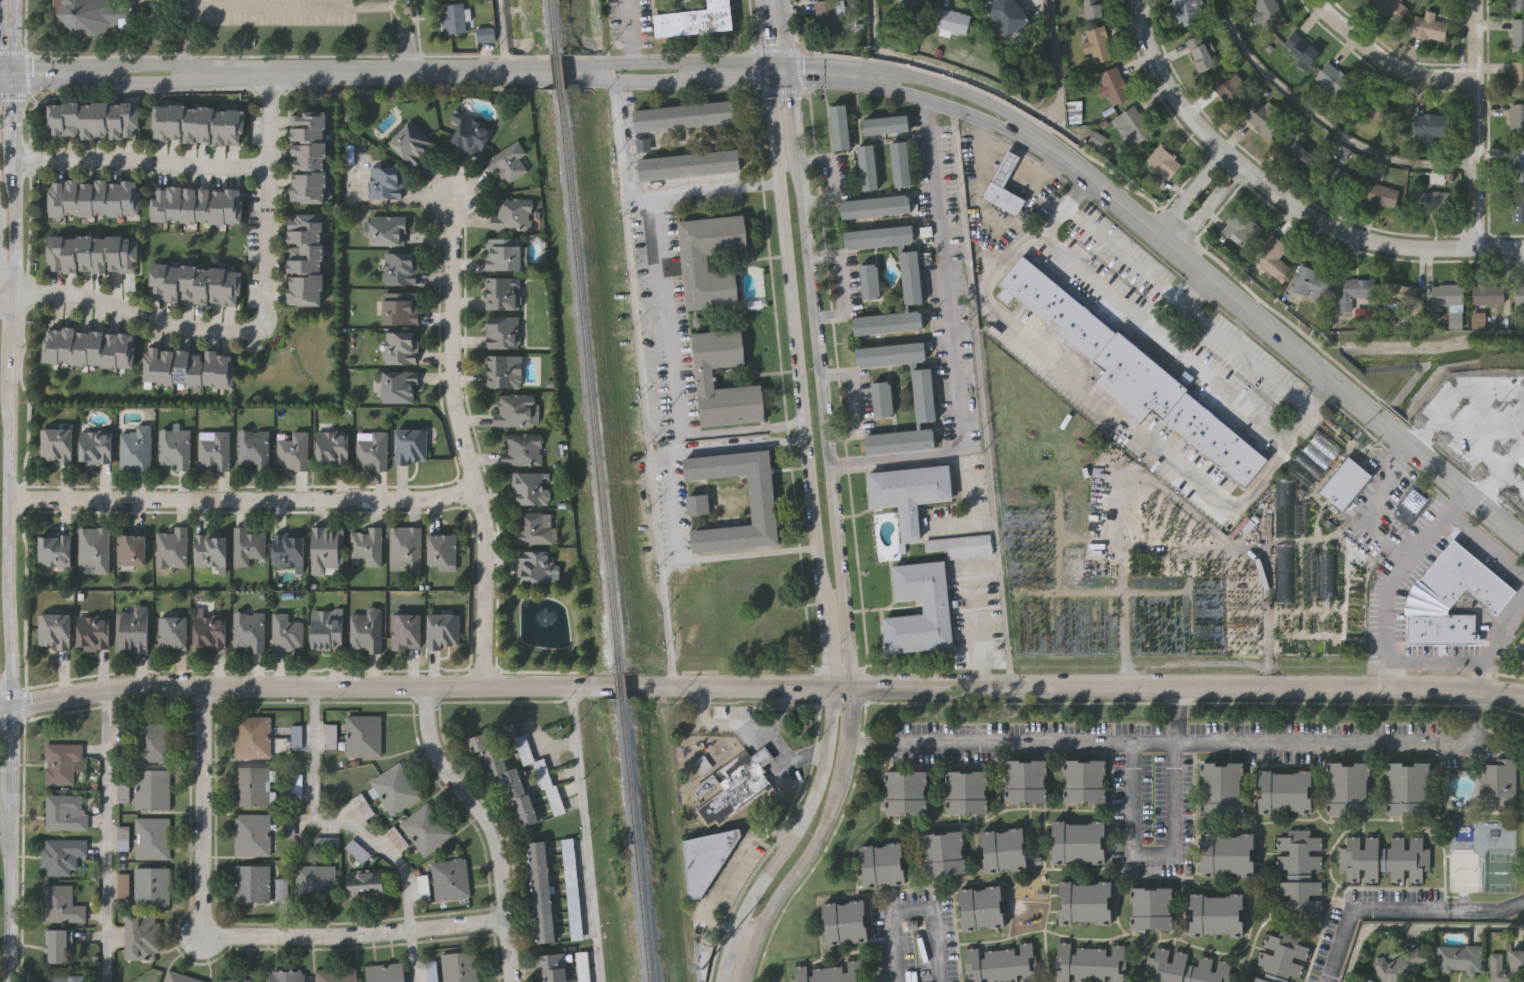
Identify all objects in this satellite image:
building: (905, 2)
building: (1517, 5)
road: (293, 7)
building: (1389, 8)
building: (1091, 9)
building: (1185, 12)
building: (1267, 13)
building: (91, 14)
building: (1007, 14)
building: (826, 16)
building: (453, 17)
building: (694, 19)
building: (952, 21)
railway: (553, 23)
building: (1428, 26)
road: (629, 30)
building: (484, 33)
road: (502, 34)
road: (406, 35)
road: (766, 35)
road: (785, 35)
building: (1517, 35)
road: (11, 36)
road: (182, 36)
building: (1098, 44)
building: (153, 48)
building: (1301, 49)
building: (1200, 53)
road: (686, 60)
traffic signals: (769, 60)
traffic signals: (788, 60)
road: (824, 61)
road: (1386, 61)
railway: (558, 69)
road: (546, 70)
road: (253, 72)
traffic signals: (11, 73)
road: (771, 74)
road: (790, 75)
building: (1517, 78)
road: (649, 79)
road: (742, 79)
traffic signals: (771, 79)
road: (780, 79)
traffic signals: (790, 79)
building: (1334, 82)
road: (945, 85)
building: (1113, 85)
building: (1231, 89)
road: (995, 90)
road: (906, 92)
building: (1372, 107)
building: (1073, 111)
road: (793, 112)
building: (685, 114)
road: (11, 115)
building: (1258, 116)
building: (93, 119)
building: (1517, 121)
road: (1324, 122)
building: (198, 123)
building: (884, 123)
road: (1475, 123)
building: (838, 125)
building: (1131, 126)
building: (1431, 128)
building: (469, 135)
building: (410, 143)
building: (1342, 154)
building: (309, 156)
road: (139, 159)
building: (1163, 161)
building: (900, 162)
building: (1517, 162)
building: (506, 163)
building: (690, 164)
building: (867, 166)
building: (1436, 177)
building: (384, 182)
building: (1002, 184)
road: (703, 189)
road: (10, 190)
road: (1191, 191)
building: (1379, 194)
road: (1283, 195)
road: (266, 197)
building: (92, 198)
building: (1434, 201)
road: (1208, 205)
building: (1518, 205)
building: (197, 206)
building: (875, 207)
road: (1065, 207)
building: (511, 214)
building: (1242, 229)
building: (385, 230)
building: (93, 252)
building: (505, 254)
road: (10, 257)
building: (1272, 259)
building: (305, 260)
building: (696, 260)
building: (399, 268)
building: (910, 277)
building: (1311, 281)
building: (869, 282)
building: (194, 284)
road: (844, 285)
road: (5, 291)
building: (501, 293)
building: (1395, 293)
building: (1357, 294)
building: (1488, 294)
building: (1519, 295)
building: (1446, 296)
building: (399, 308)
road: (1186, 308)
road: (136, 312)
road: (670, 312)
road: (1273, 331)
building: (500, 332)
road: (1163, 335)
road: (952, 340)
building: (88, 347)
building: (399, 349)
building: (189, 369)
building: (502, 370)
building: (1132, 373)
building: (706, 374)
railway: (588, 382)
road: (642, 382)
building: (397, 387)
building: (921, 396)
building: (880, 397)
road: (853, 403)
road: (1110, 407)
road: (1308, 407)
building: (514, 410)
road: (823, 416)
road: (744, 427)
road: (460, 444)
road: (727, 444)
building: (55, 445)
road: (1465, 445)
building: (409, 446)
building: (94, 447)
building: (330, 447)
building: (134, 448)
building: (173, 448)
building: (213, 449)
building: (253, 449)
building: (521, 449)
building: (370, 450)
building: (292, 451)
building: (1515, 453)
building: (1314, 458)
road: (896, 465)
building: (1345, 482)
building: (529, 488)
road: (966, 490)
building: (908, 494)
road: (5, 498)
road: (239, 498)
building: (763, 502)
building: (698, 503)
road: (676, 505)
road: (1369, 506)
building: (1284, 508)
building: (1300, 517)
building: (1072, 524)
building: (532, 528)
road: (817, 543)
building: (962, 544)
road: (1485, 544)
building: (365, 545)
building: (246, 546)
building: (170, 547)
building: (404, 549)
building: (92, 550)
building: (130, 550)
building: (209, 550)
building: (287, 550)
building: (326, 550)
building: (53, 551)
building: (441, 551)
road: (750, 552)
road: (1266, 563)
building: (533, 567)
building: (1283, 574)
building: (1318, 576)
road: (1392, 576)
building: (1449, 598)
building: (937, 606)
building: (725, 610)
road: (978, 626)
building: (131, 629)
building: (325, 629)
building: (248, 630)
building: (364, 630)
building: (442, 630)
building: (53, 631)
building: (405, 631)
building: (171, 632)
building: (91, 633)
building: (209, 633)
building: (285, 633)
road: (1493, 637)
road: (1436, 663)
railway: (618, 685)
road: (1187, 687)
road: (424, 688)
road: (778, 712)
road: (851, 717)
road: (755, 728)
building: (365, 735)
building: (253, 736)
building: (123, 741)
building: (153, 741)
road: (5, 746)
road: (1187, 747)
building: (60, 761)
building: (536, 766)
building: (702, 766)
building: (507, 777)
building: (1025, 779)
building: (1084, 779)
building: (1500, 781)
building: (735, 784)
building: (252, 785)
building: (396, 787)
building: (1221, 787)
building: (1348, 787)
building: (1409, 787)
building: (153, 788)
building: (905, 790)
building: (966, 790)
building: (1285, 790)
road: (5, 810)
building: (62, 810)
road: (334, 822)
road: (489, 826)
building: (427, 828)
building: (253, 834)
building: (124, 835)
road: (584, 835)
road: (104, 837)
building: (153, 837)
railway: (635, 840)
building: (1078, 840)
road: (1174, 845)
road: (811, 848)
building: (1003, 848)
building: (358, 850)
building: (943, 852)
building: (1227, 853)
building: (61, 854)
building: (705, 858)
building: (1384, 858)
building: (881, 864)
building: (1299, 874)
building: (451, 878)
road: (720, 878)
building: (252, 882)
building: (316, 882)
building: (124, 884)
building: (153, 884)
building: (367, 885)
building: (573, 887)
building: (281, 891)
building: (542, 891)
building: (1085, 900)
building: (60, 903)
building: (982, 906)
building: (1152, 906)
road: (5, 908)
road: (1361, 909)
road: (1485, 909)
building: (1217, 912)
road: (918, 913)
building: (843, 921)
road: (1413, 930)
building: (141, 936)
road: (236, 936)
building: (56, 946)
road: (411, 956)
building: (1281, 957)
building: (1458, 957)
road: (744, 959)
building: (1089, 962)
building: (1001, 963)
building: (1506, 963)
building: (1398, 964)
building: (461, 966)
building: (554, 966)
building: (584, 966)
building: (1185, 968)
building: (386, 972)
building: (829, 973)
building: (337, 974)
building: (287, 975)
building: (61, 977)
building: (181, 977)
building: (239, 980)

